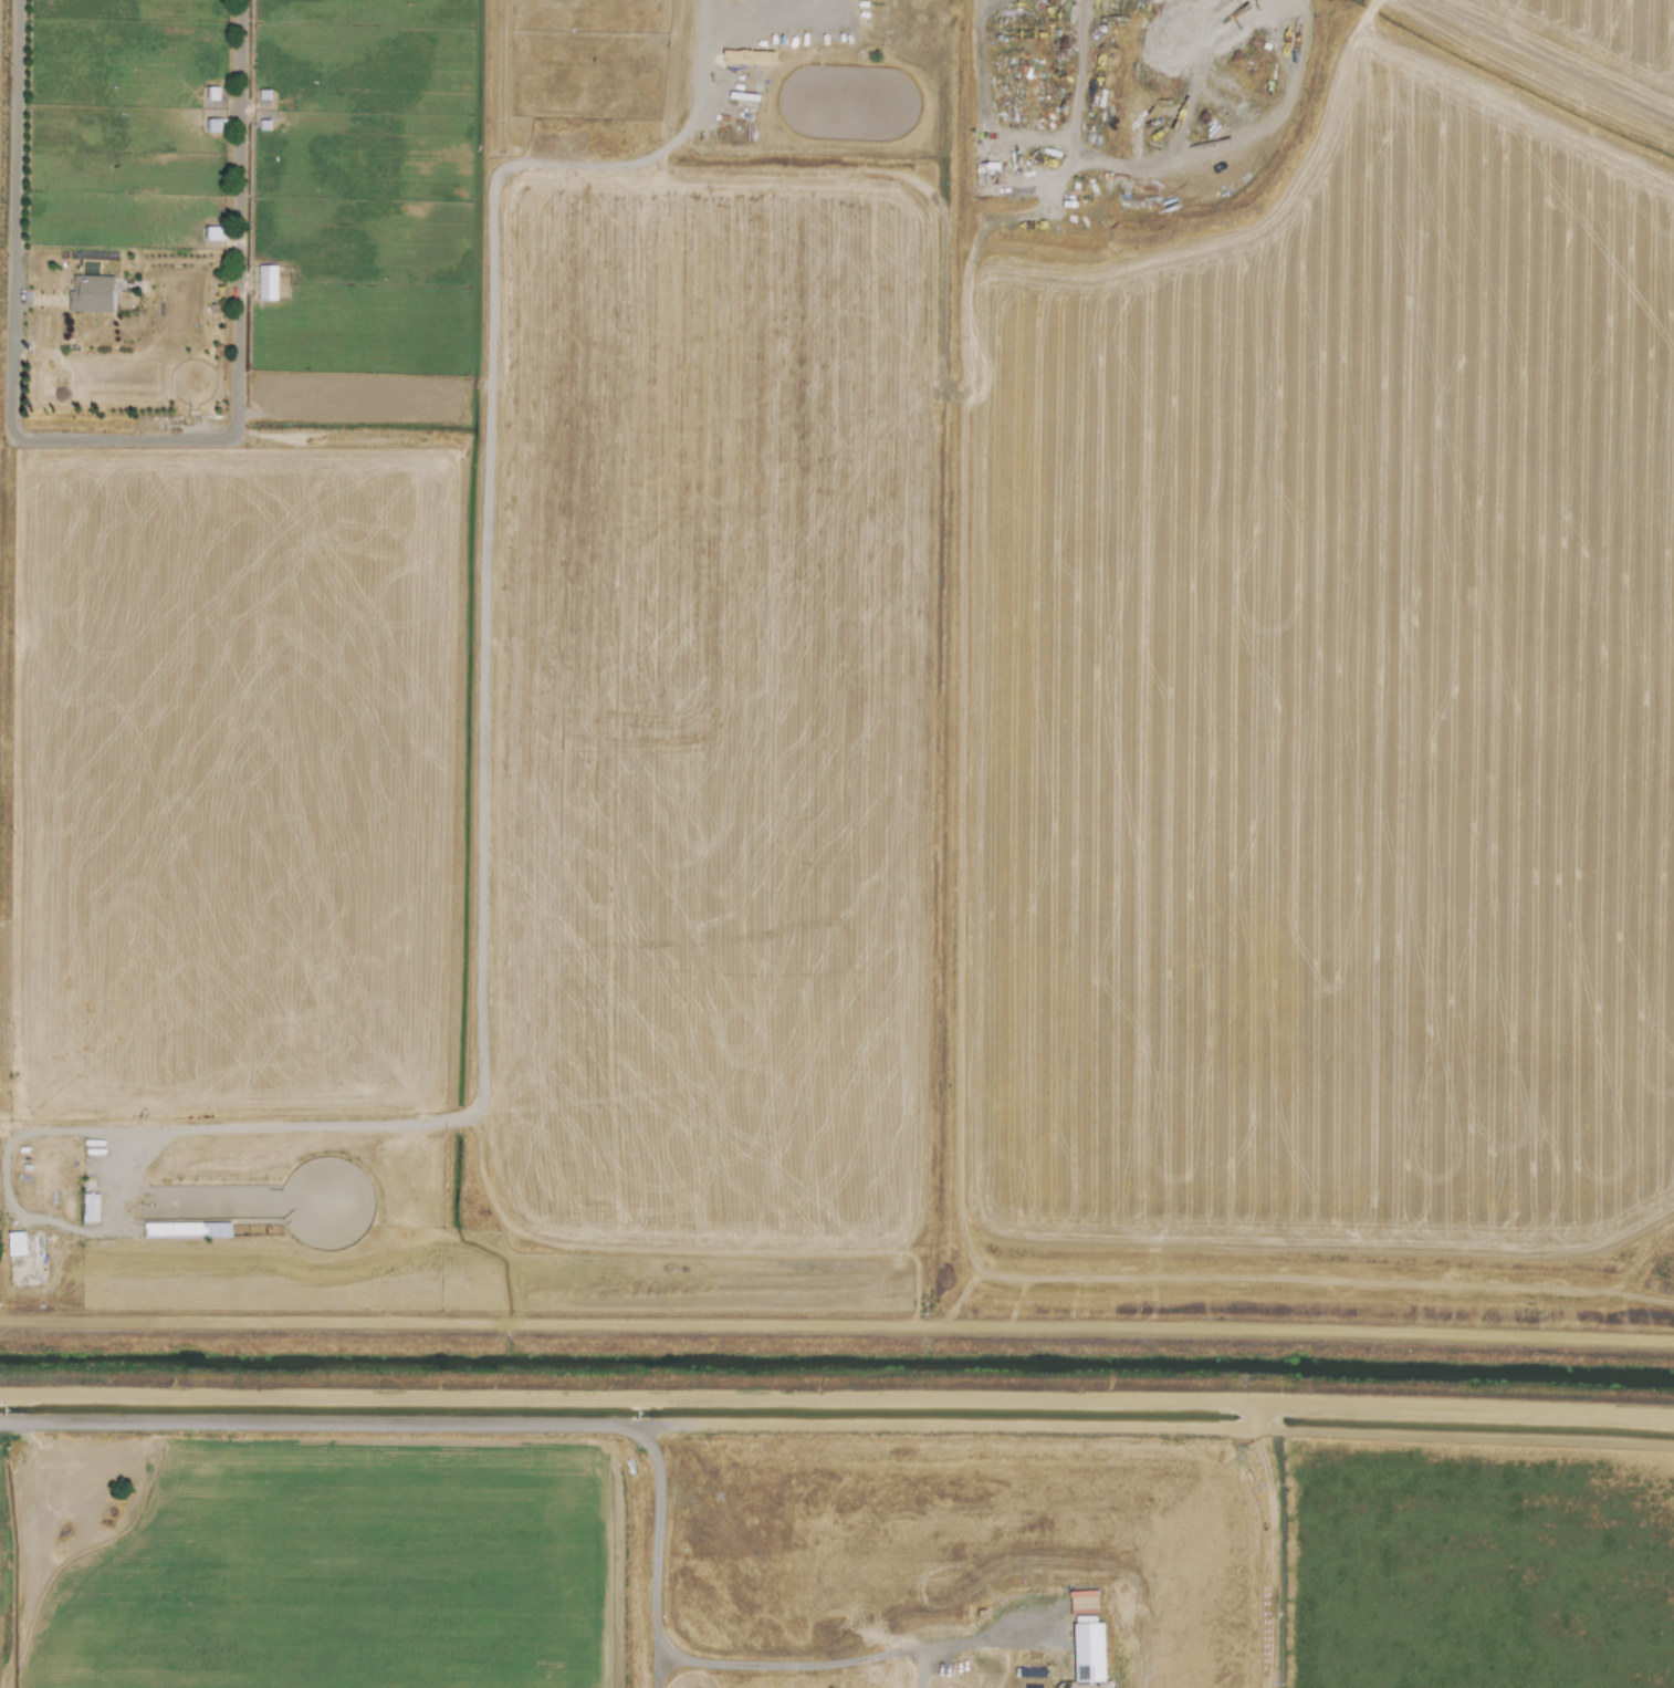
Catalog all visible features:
road: (757, 21)
road: (1549, 55)
building: (216, 125)
building: (266, 282)
building: (90, 294)
road: (236, 324)
road: (8, 517)
building: (17, 1243)
road: (17, 1251)
road: (837, 1323)
road: (837, 1408)
road: (307, 1421)
building: (1085, 1651)
road: (647, 1657)
road: (733, 1661)
road: (659, 1665)
road: (646, 1682)

